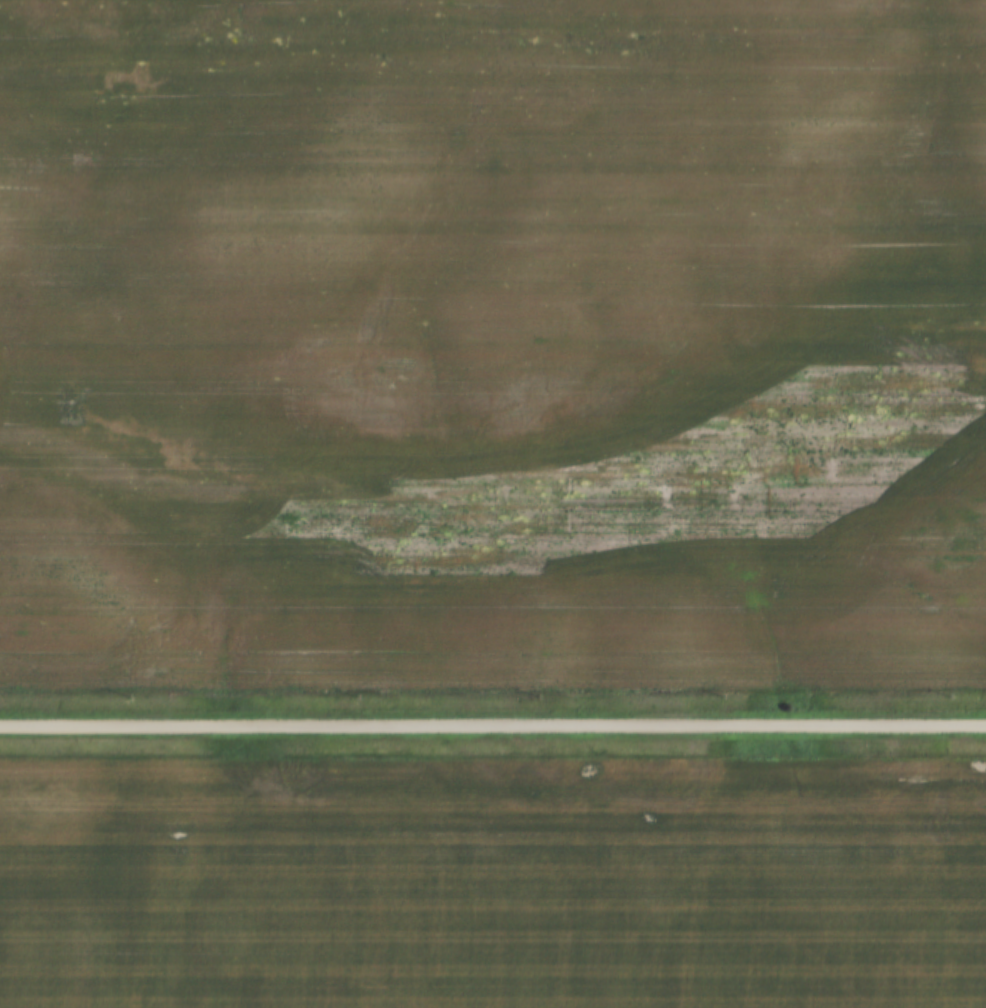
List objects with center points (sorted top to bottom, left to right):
road: (493, 728)

